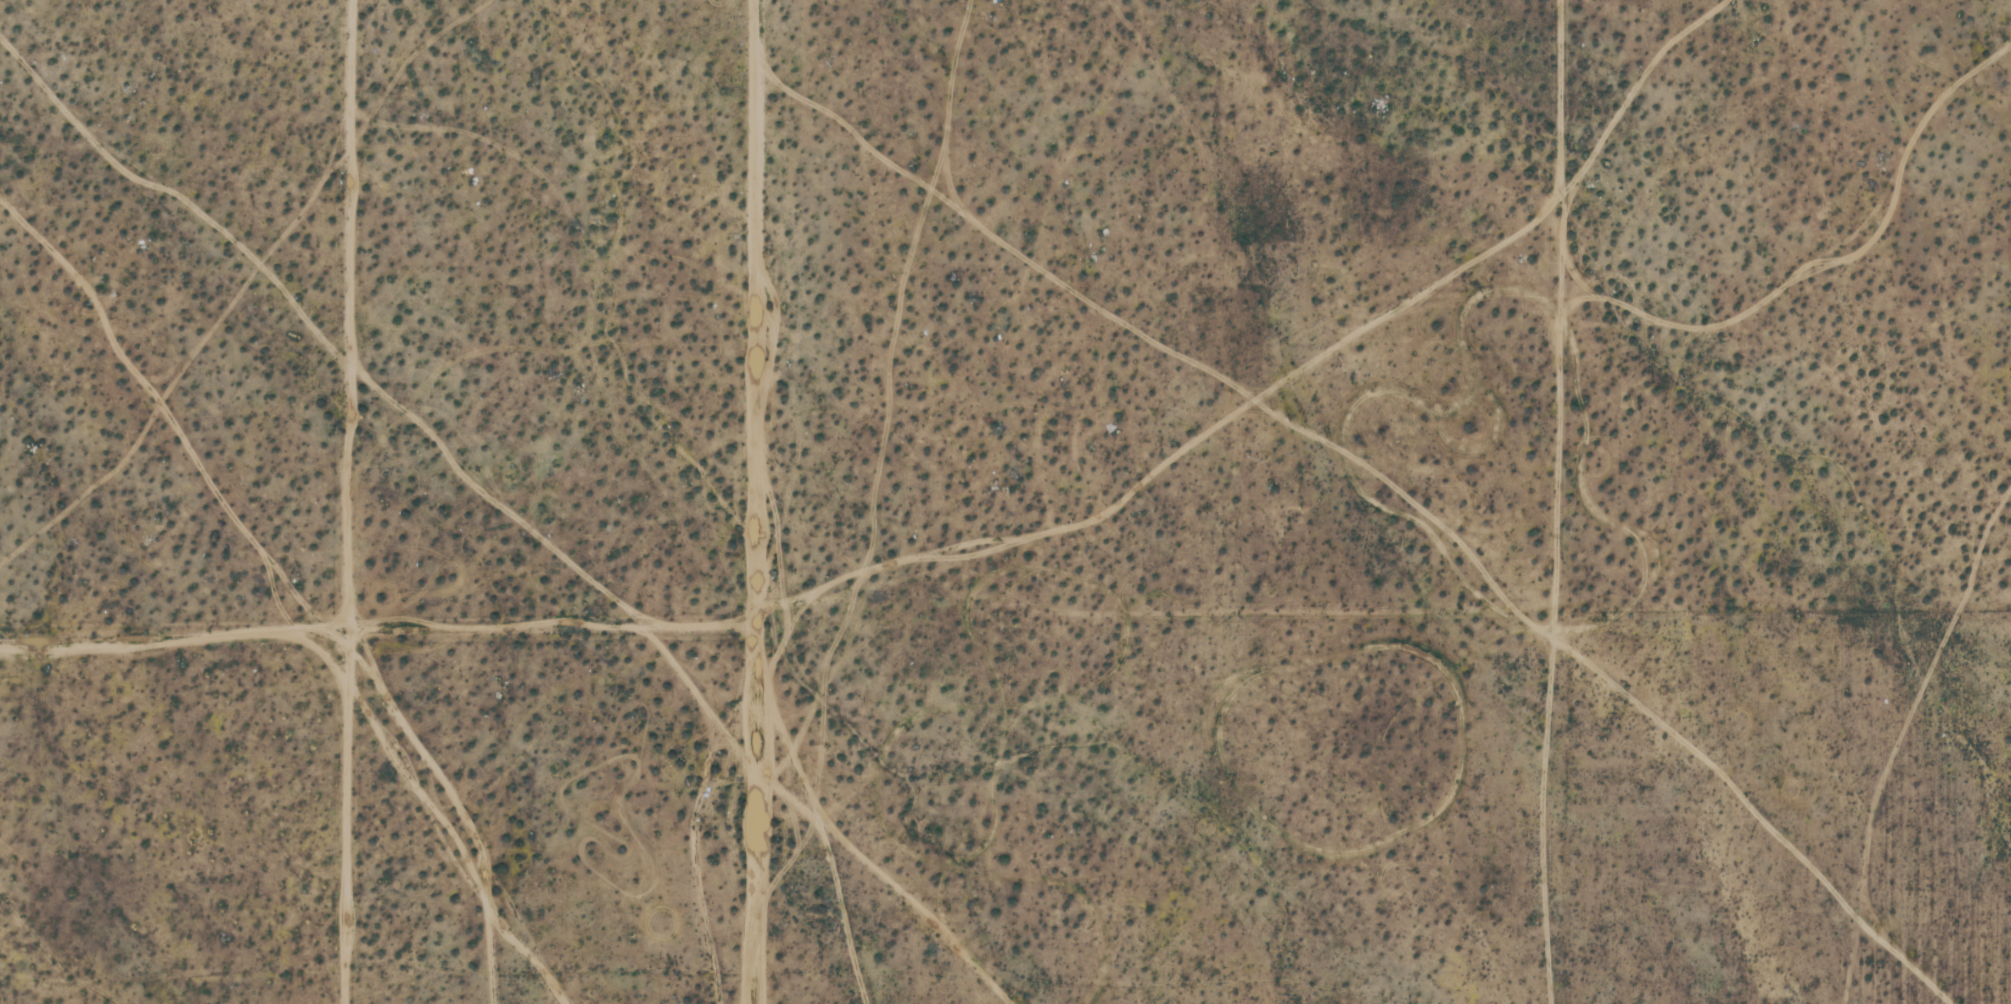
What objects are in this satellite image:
road: (757, 502)
road: (1555, 502)
road: (378, 636)

